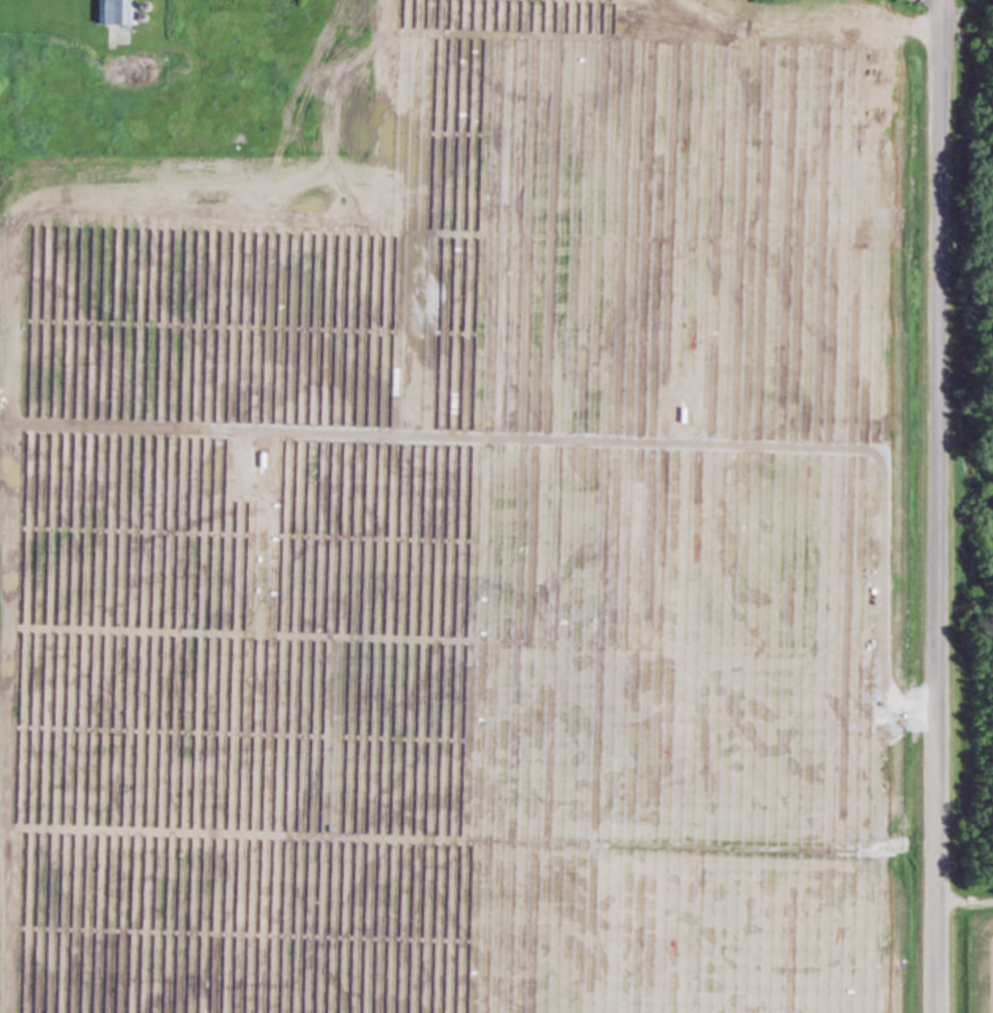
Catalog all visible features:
building: (105, 13)
road: (943, 27)
road: (940, 533)

